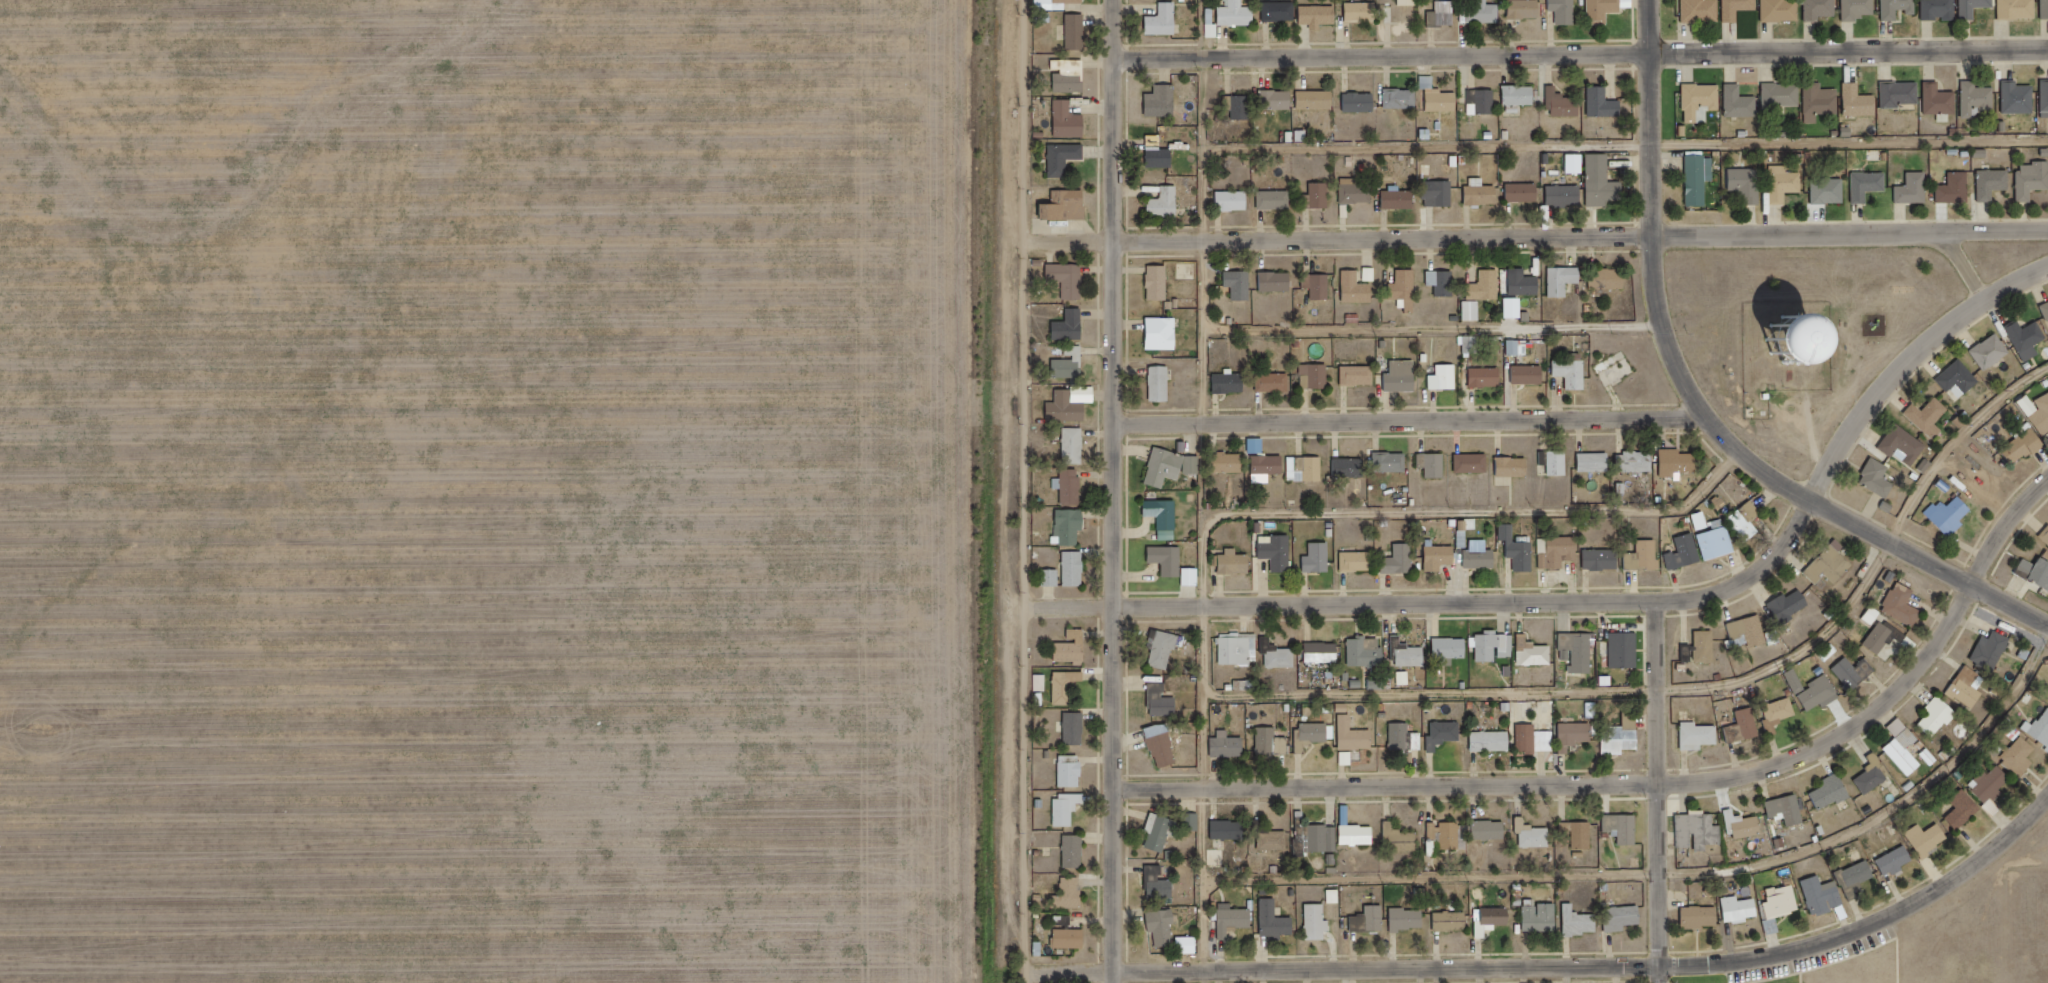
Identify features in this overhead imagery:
building: (1409, 2)
building: (1072, 3)
building: (1974, 7)
building: (1526, 8)
building: (1738, 8)
building: (1822, 8)
building: (1860, 8)
building: (1899, 8)
building: (2018, 8)
building: (2045, 8)
building: (1941, 9)
building: (1281, 10)
building: (1603, 10)
building: (1702, 10)
building: (1782, 10)
building: (1363, 11)
building: (1564, 11)
building: (1482, 12)
building: (1239, 13)
building: (1443, 14)
building: (1320, 15)
building: (1165, 24)
building: (1079, 35)
road: (1583, 58)
building: (1072, 80)
building: (1901, 93)
building: (1521, 94)
building: (1781, 94)
building: (1440, 96)
building: (2019, 97)
building: (1401, 98)
building: (1977, 98)
building: (2045, 98)
building: (1278, 99)
building: (1317, 99)
building: (1701, 99)
building: (1361, 101)
building: (1482, 101)
building: (1820, 101)
building: (1859, 101)
building: (1941, 101)
building: (1740, 102)
building: (1563, 103)
building: (1604, 103)
building: (1164, 104)
building: (1239, 105)
building: (1070, 123)
road: (1628, 147)
building: (1067, 162)
building: (1164, 163)
building: (1577, 163)
building: (1602, 181)
building: (2033, 183)
building: (1700, 184)
building: (1786, 188)
building: (1870, 188)
building: (1994, 188)
building: (1748, 189)
building: (1356, 191)
building: (1524, 191)
building: (1439, 192)
building: (1482, 192)
building: (1915, 193)
building: (1957, 193)
building: (1317, 195)
building: (1565, 195)
building: (1830, 195)
building: (1399, 198)
building: (1275, 199)
building: (1234, 200)
building: (1168, 206)
building: (1068, 210)
road: (1583, 240)
road: (1209, 241)
road: (1075, 242)
road: (1971, 269)
building: (1564, 279)
building: (1612, 279)
building: (1277, 281)
building: (1071, 282)
building: (1442, 282)
building: (1524, 282)
building: (1241, 284)
building: (1318, 285)
building: (1486, 285)
building: (1160, 287)
building: (1357, 288)
building: (1406, 289)
building: (1516, 307)
building: (1472, 310)
building: (2046, 312)
building: (1073, 330)
road: (1438, 332)
park: (1806, 336)
building: (1164, 337)
building: (2028, 342)
building: (1472, 344)
building: (1850, 345)
building: (1515, 346)
building: (1775, 347)
water tower: (1775, 347)
building: (1993, 355)
building: (1069, 371)
building: (1573, 372)
building: (1528, 374)
building: (1359, 375)
building: (1315, 376)
building: (1403, 376)
building: (1486, 376)
building: (1445, 377)
building: (1230, 382)
building: (1274, 382)
building: (1960, 384)
building: (1162, 387)
road: (1700, 405)
building: (1068, 413)
road: (1413, 420)
building: (1929, 421)
building: (2042, 421)
building: (1906, 449)
building: (1078, 450)
building: (2023, 451)
building: (1555, 460)
building: (1636, 460)
building: (1230, 461)
building: (1391, 461)
building: (1596, 461)
building: (1678, 461)
building: (1473, 462)
building: (1434, 463)
building: (1269, 466)
building: (1349, 466)
building: (1514, 466)
building: (1308, 467)
building: (1166, 471)
building: (1879, 481)
road: (1033, 491)
road: (1119, 491)
building: (1075, 492)
building: (1165, 516)
road: (1263, 519)
building: (1950, 520)
building: (1746, 521)
building: (1073, 529)
building: (1717, 539)
building: (2045, 539)
building: (1518, 548)
building: (1278, 551)
building: (1558, 551)
building: (1685, 552)
building: (1645, 555)
building: (1440, 556)
building: (1319, 557)
building: (1480, 558)
building: (1603, 558)
building: (1401, 559)
building: (1358, 560)
building: (1234, 562)
building: (1170, 563)
building: (1833, 567)
building: (1077, 573)
building: (2036, 574)
building: (1194, 580)
building: (1055, 581)
building: (1903, 603)
road: (1613, 605)
building: (1790, 608)
building: (1752, 633)
building: (1881, 637)
building: (1494, 645)
building: (1240, 648)
building: (1451, 649)
building: (1625, 649)
building: (1579, 650)
building: (1992, 650)
building: (1075, 651)
building: (1324, 651)
building: (1366, 651)
building: (1535, 651)
building: (1707, 651)
building: (1165, 653)
building: (1279, 653)
building: (1409, 653)
building: (1854, 671)
building: (1044, 686)
building: (1970, 687)
building: (1069, 689)
building: (1816, 690)
road: (1699, 692)
building: (1163, 704)
building: (1781, 712)
building: (1939, 716)
building: (1745, 726)
building: (1077, 732)
building: (2038, 732)
building: (1445, 733)
building: (1312, 734)
building: (1355, 734)
building: (1575, 734)
building: (1400, 735)
building: (1623, 735)
building: (1699, 735)
building: (1535, 739)
building: (1492, 740)
building: (1271, 741)
building: (1227, 744)
building: (1905, 746)
building: (1165, 751)
building: (1347, 757)
building: (2021, 762)
building: (1073, 775)
building: (1873, 775)
road: (1647, 786)
building: (1993, 788)
building: (1832, 791)
road: (1663, 793)
building: (1788, 809)
building: (1070, 812)
building: (1964, 813)
building: (1745, 824)
building: (1192, 825)
building: (1623, 827)
building: (1229, 829)
building: (1490, 829)
building: (1699, 830)
building: (1580, 832)
building: (1160, 834)
building: (1357, 834)
building: (1447, 834)
building: (1534, 834)
building: (1315, 838)
building: (1399, 838)
building: (1273, 840)
building: (1928, 843)
building: (1076, 855)
building: (1896, 864)
road: (1672, 878)
building: (1860, 878)
building: (1160, 886)
building: (1824, 898)
building: (1337, 899)
building: (1070, 900)
building: (1784, 906)
building: (1740, 913)
building: (1496, 919)
building: (1624, 921)
building: (1700, 921)
building: (1409, 922)
building: (1542, 922)
building: (1235, 923)
building: (1371, 923)
building: (1277, 924)
building: (1319, 925)
building: (1452, 925)
building: (1580, 925)
building: (1164, 929)
building: (1072, 942)
building: (1189, 949)
road: (1564, 970)

